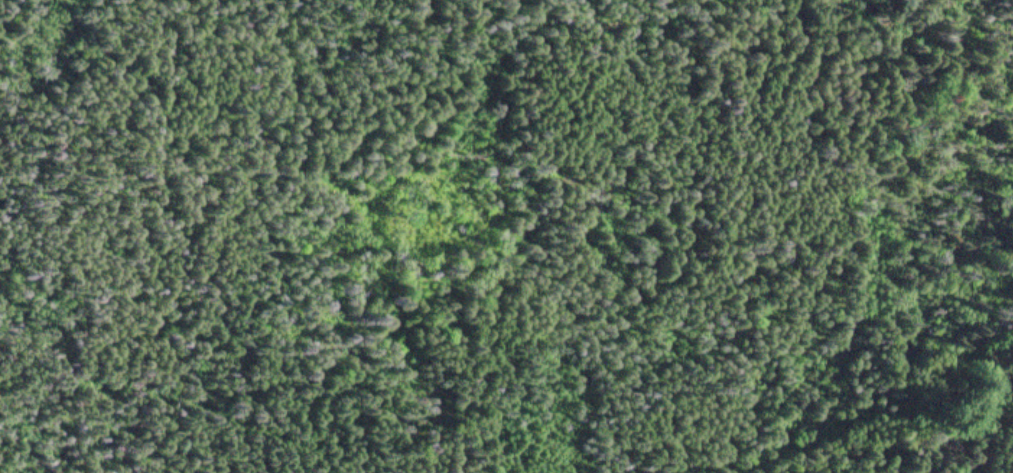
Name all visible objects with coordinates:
road: (978, 421)

